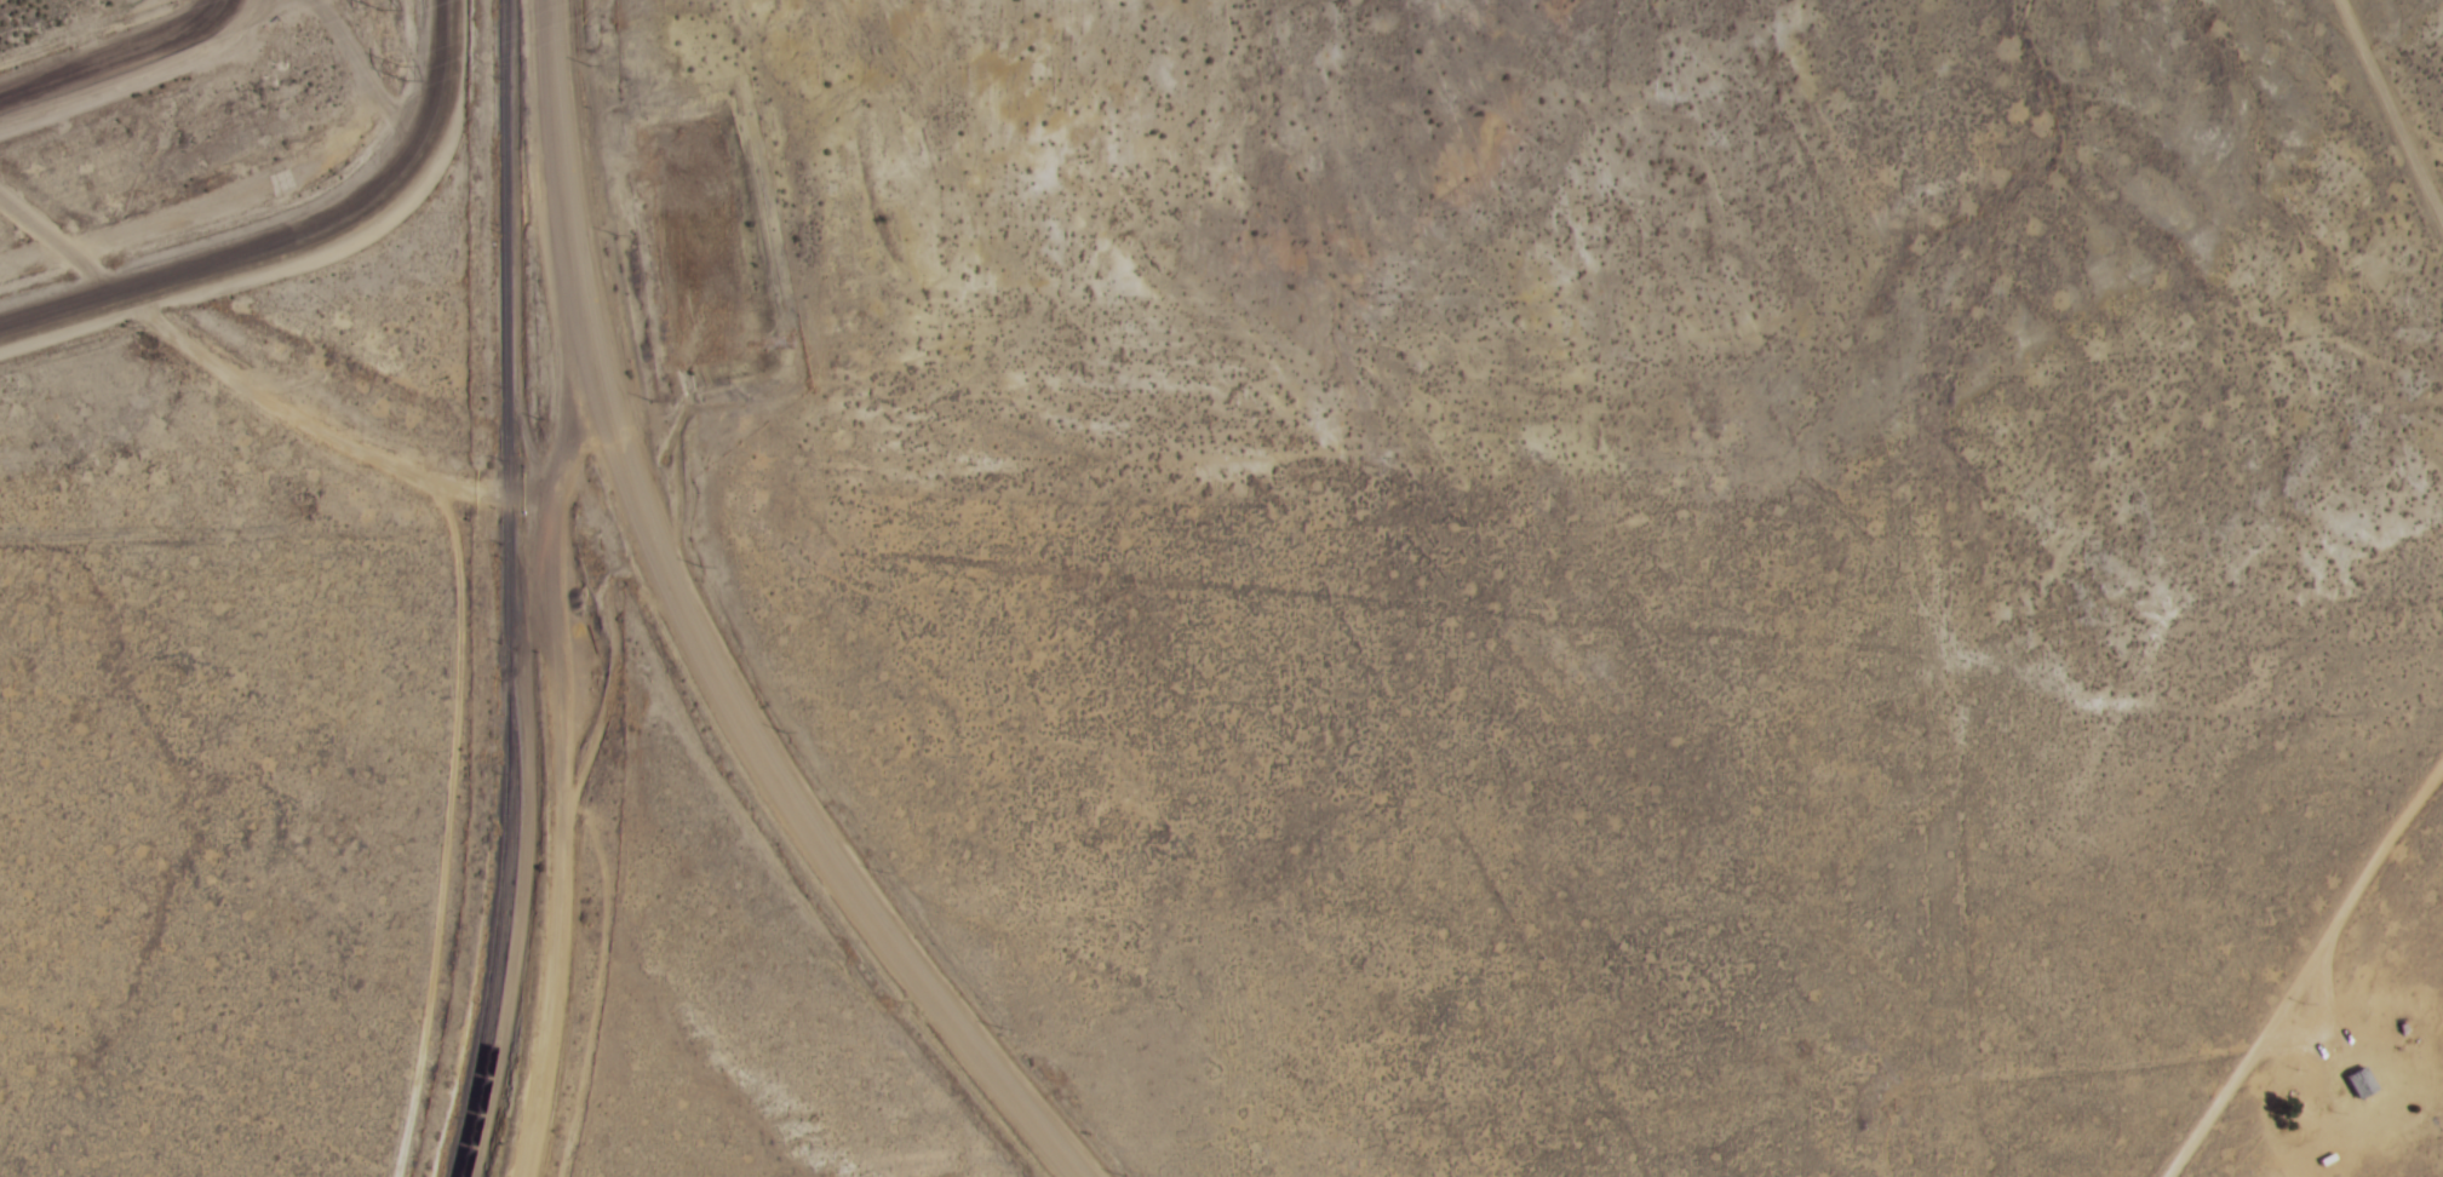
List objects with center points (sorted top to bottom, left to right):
power plant: (39, 12)
road: (114, 54)
power tower: (407, 67)
road: (2390, 103)
road: (197, 346)
road: (618, 450)
road: (535, 492)
railway: (505, 591)
road: (2264, 706)
road: (446, 819)
railway: (511, 859)
road: (2309, 969)
road: (928, 1024)
building: (2362, 1084)
road: (2334, 1102)

